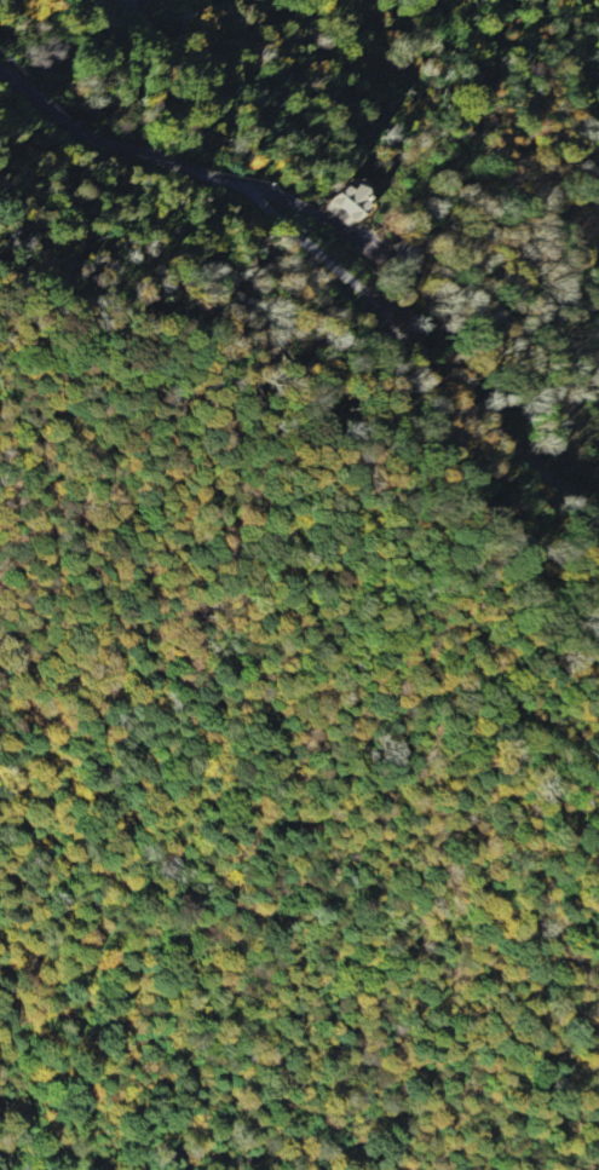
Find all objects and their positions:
building: (341, 203)
road: (289, 231)

